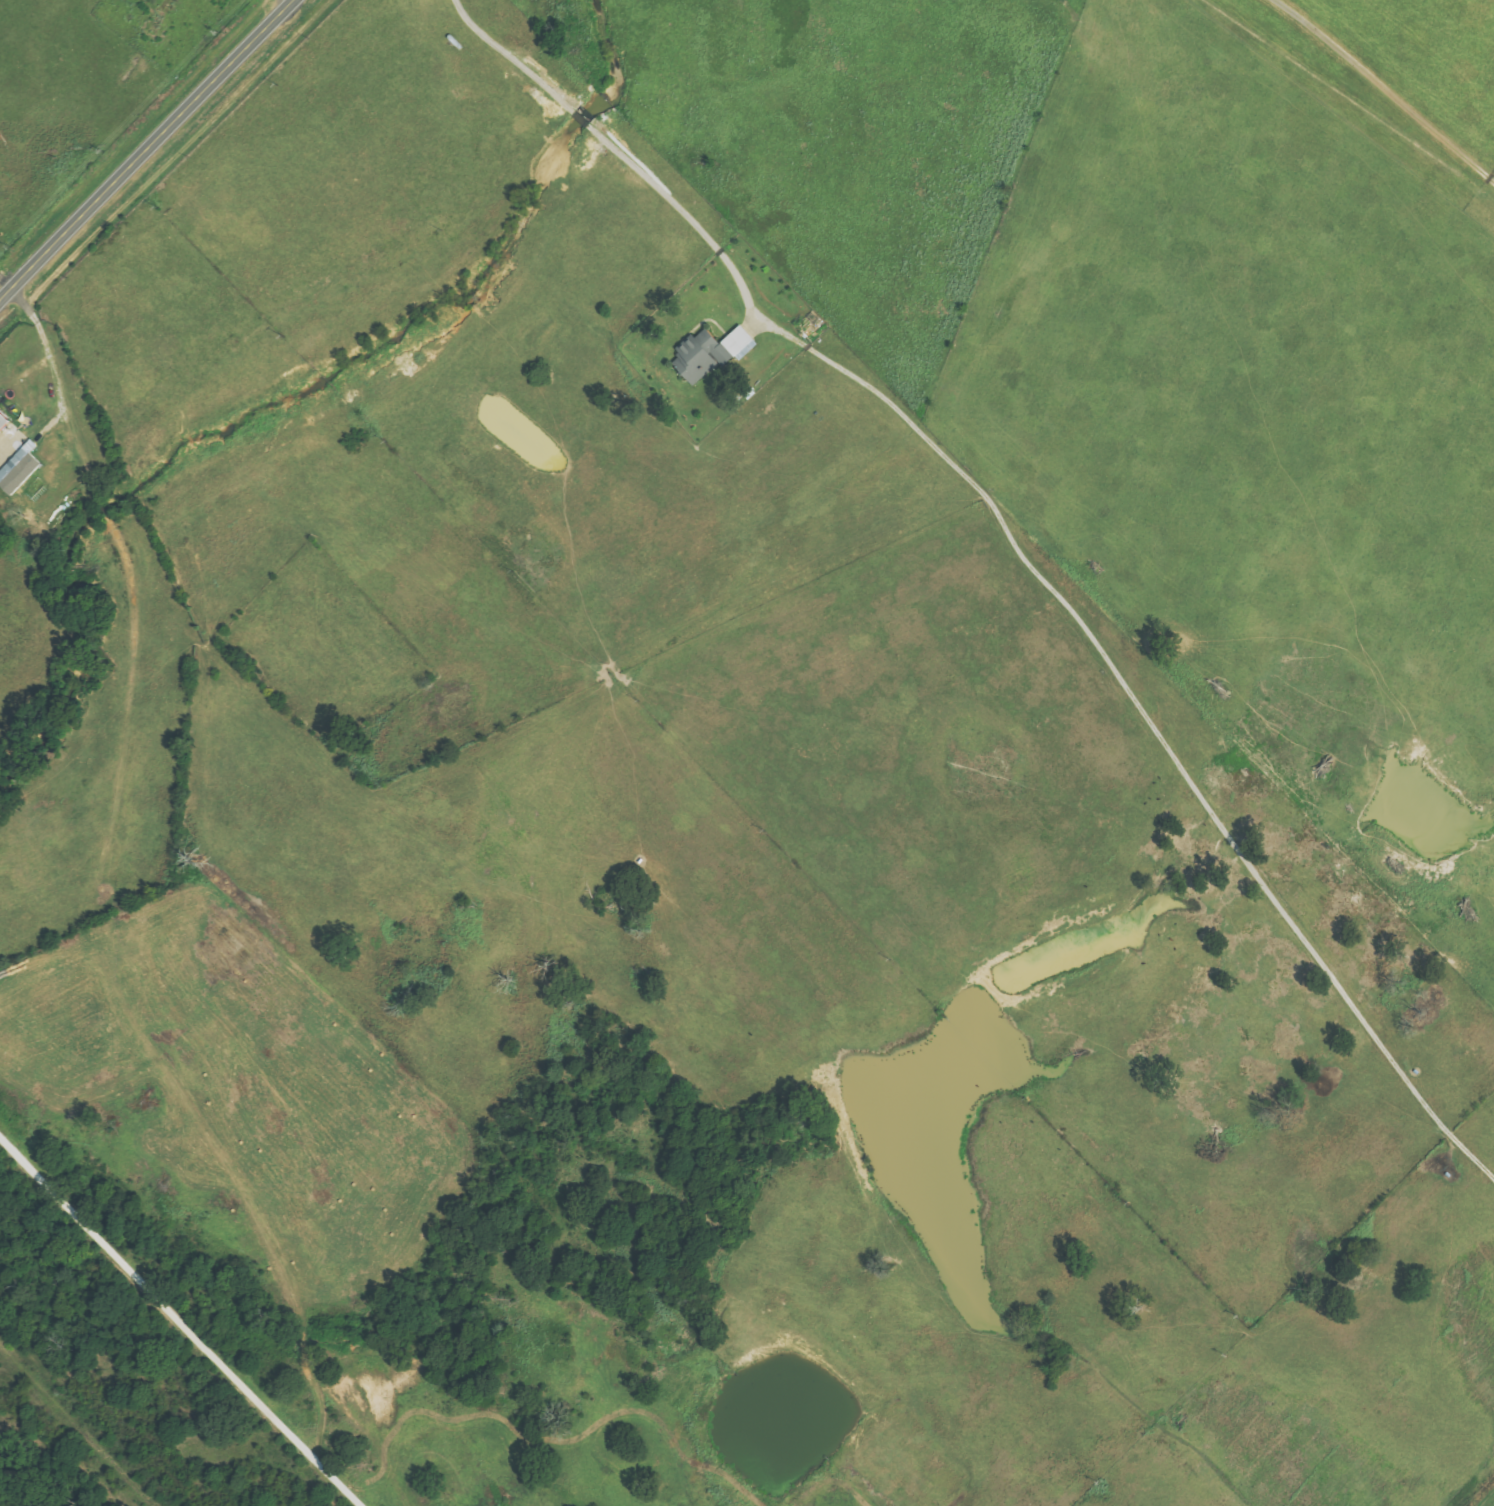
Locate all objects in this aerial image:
road: (1379, 93)
road: (148, 149)
road: (617, 152)
building: (738, 343)
building: (698, 356)
road: (63, 395)
building: (5, 420)
building: (22, 470)
road: (180, 1323)

